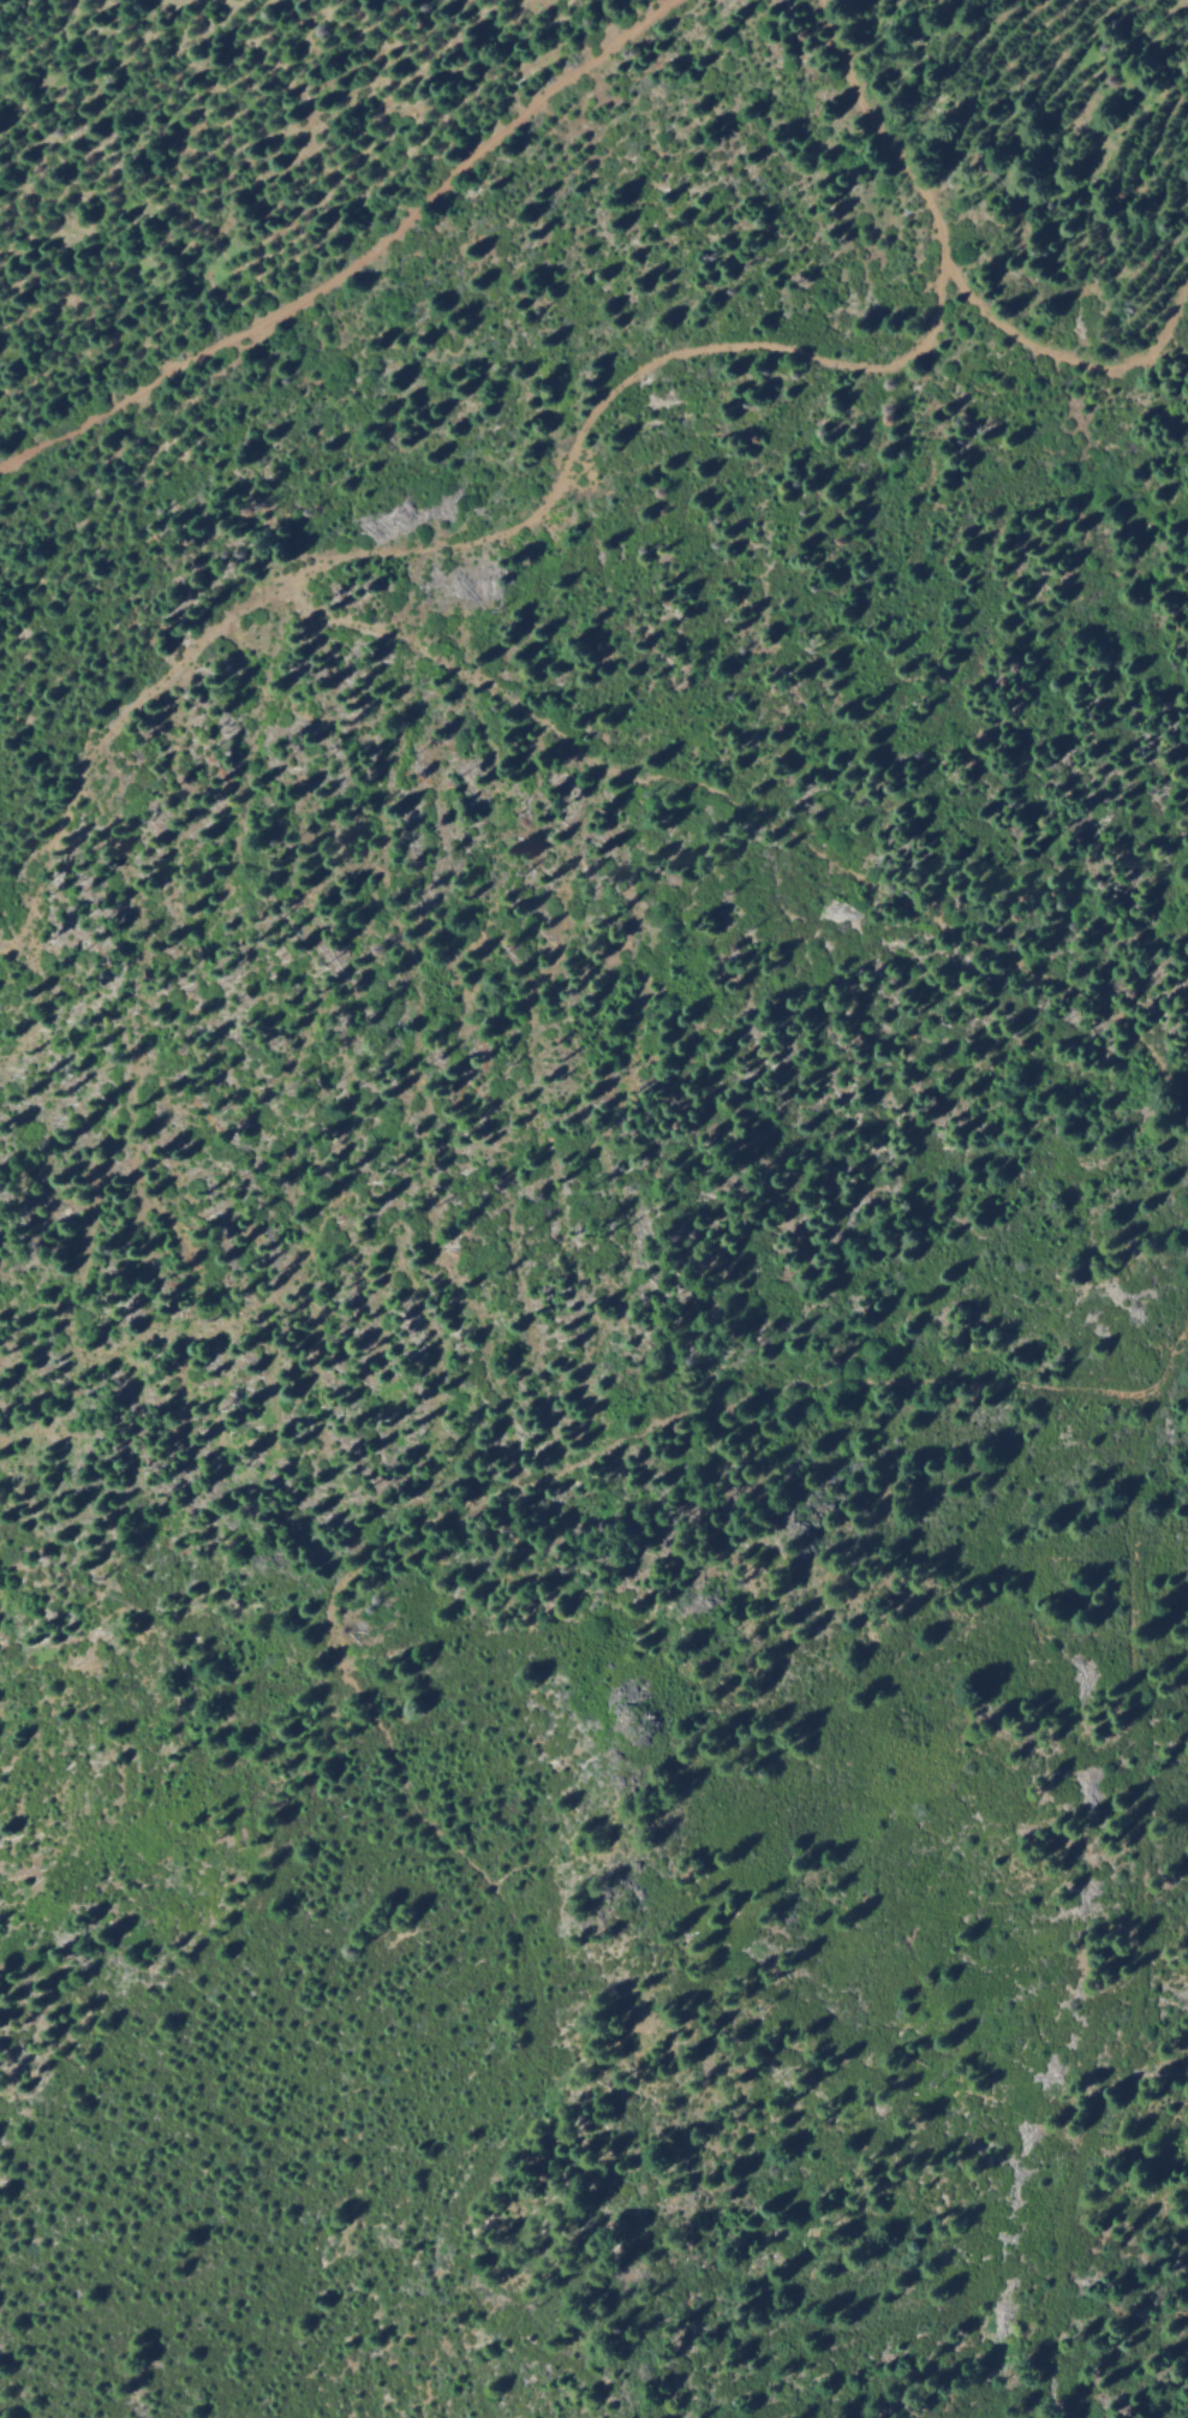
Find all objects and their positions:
road: (357, 257)
road: (1069, 358)
road: (322, 557)
road: (119, 730)
road: (632, 1440)
road: (1144, 1905)

